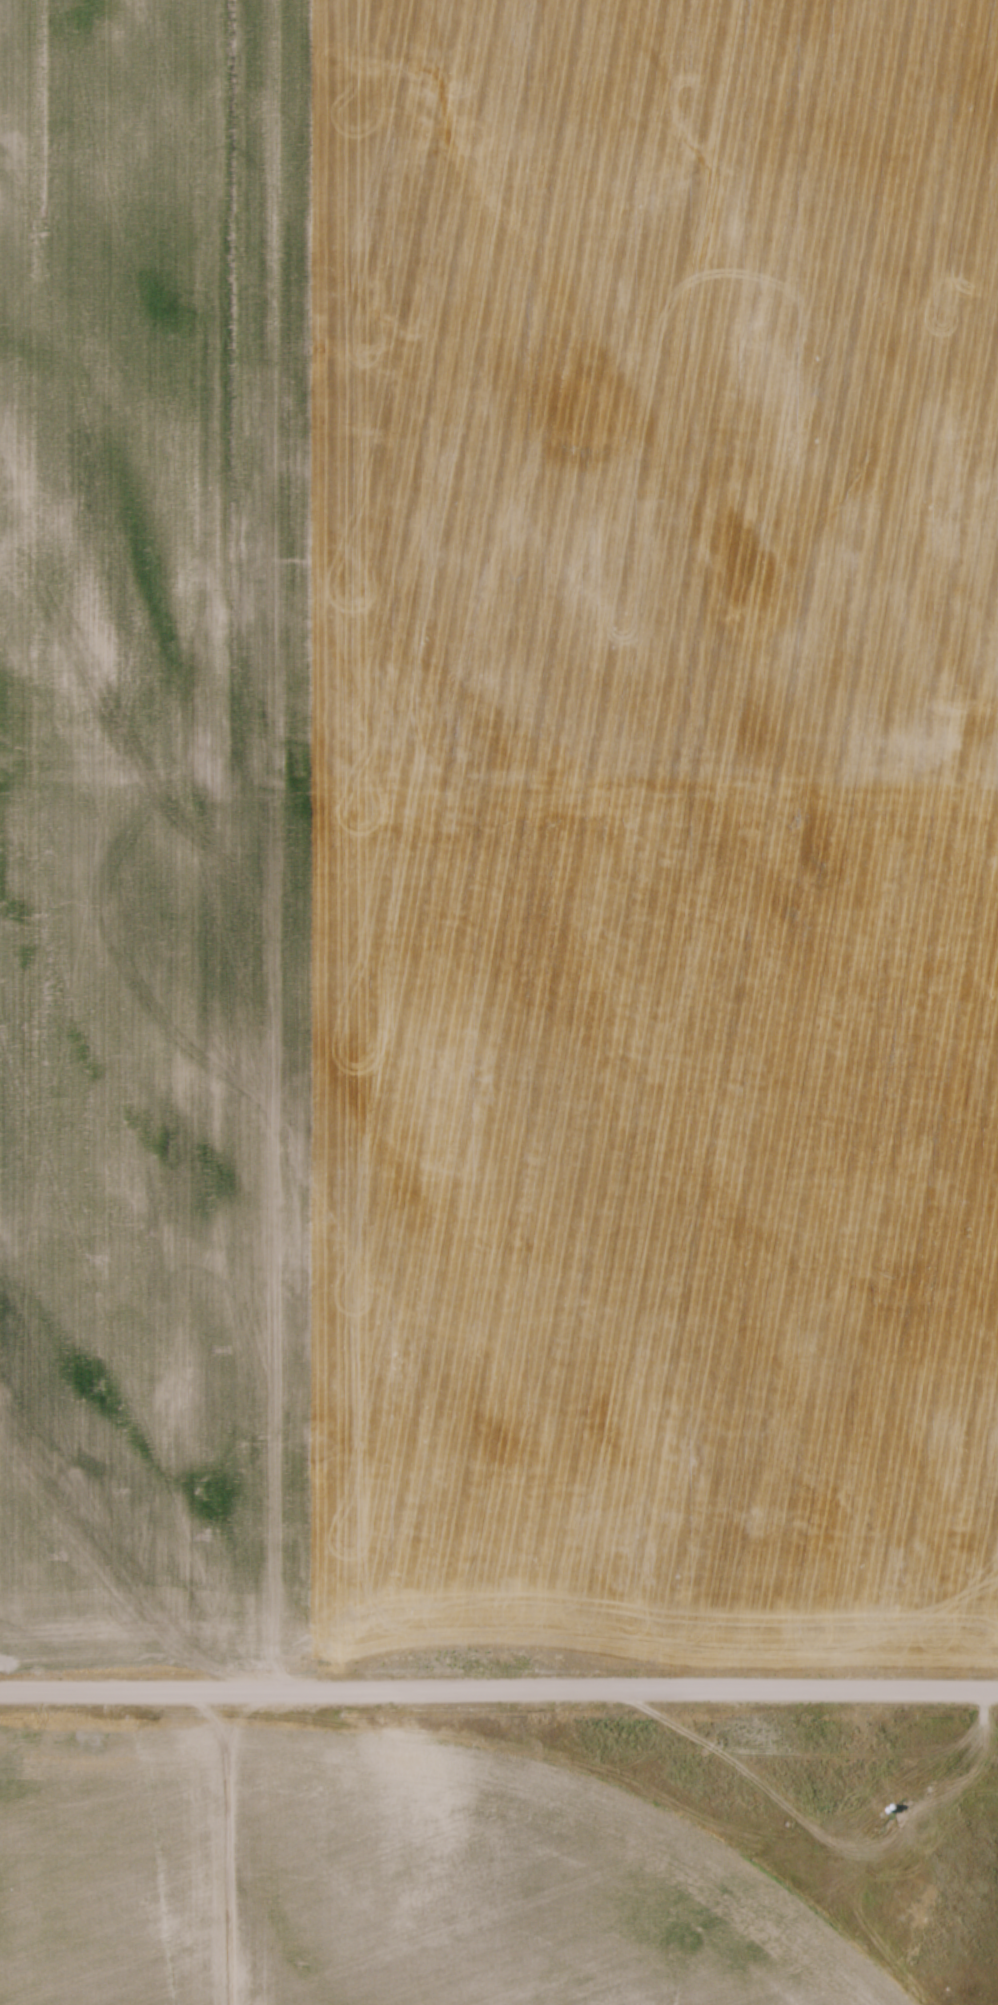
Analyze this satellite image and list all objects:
road: (499, 1690)
building: (77, 1736)

